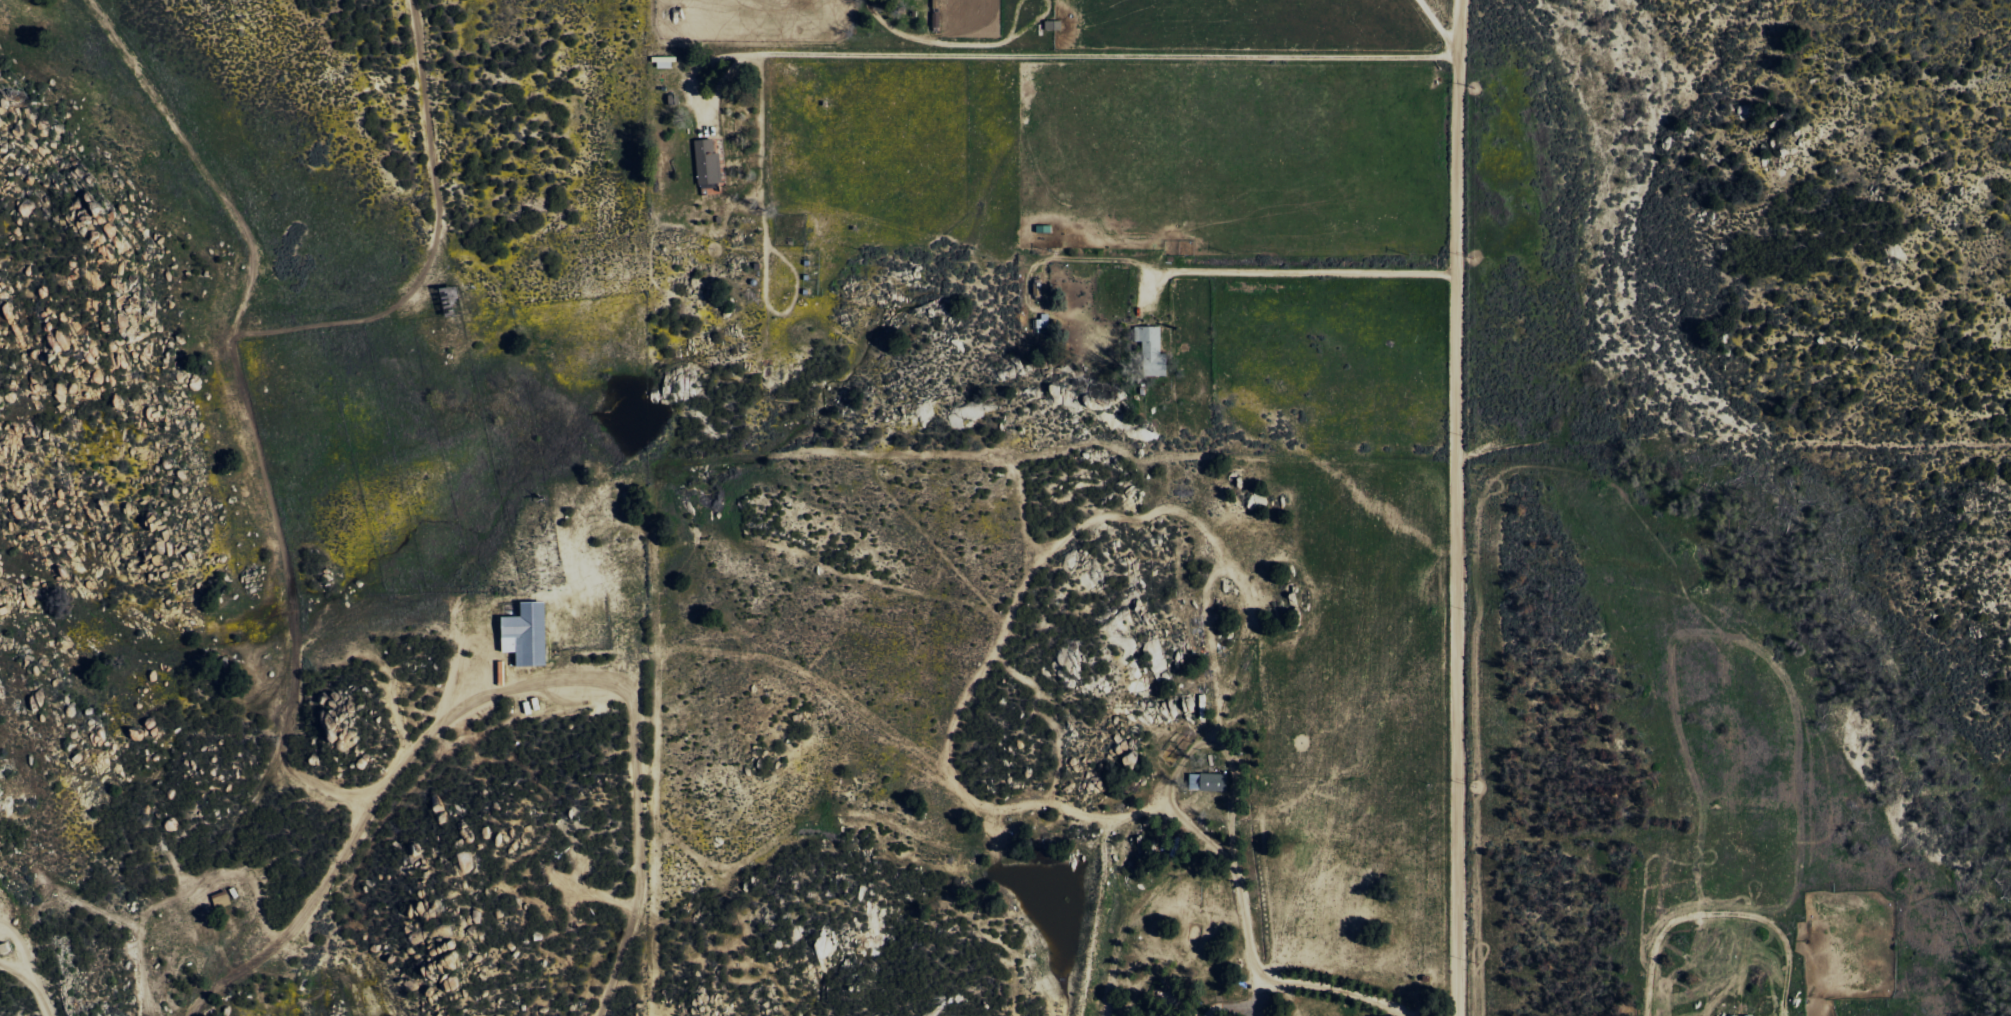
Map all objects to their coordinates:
building: (665, 62)
building: (709, 163)
building: (1044, 325)
building: (1150, 340)
road: (1461, 507)
building: (529, 633)
building: (1211, 781)
building: (1741, 1015)

